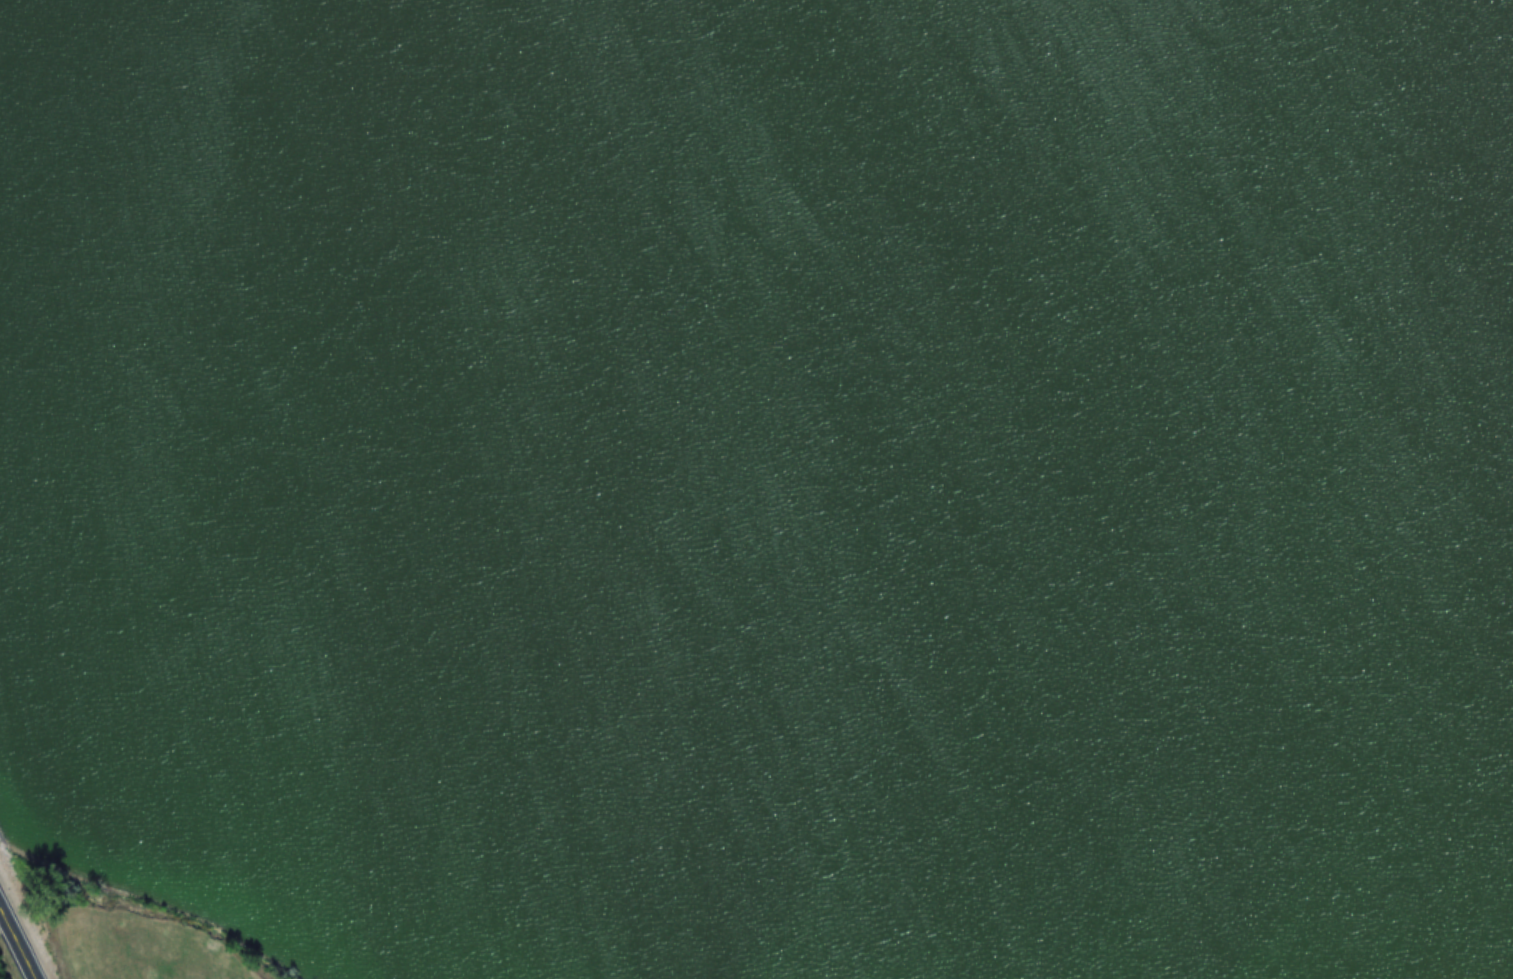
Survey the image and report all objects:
road: (21, 938)

